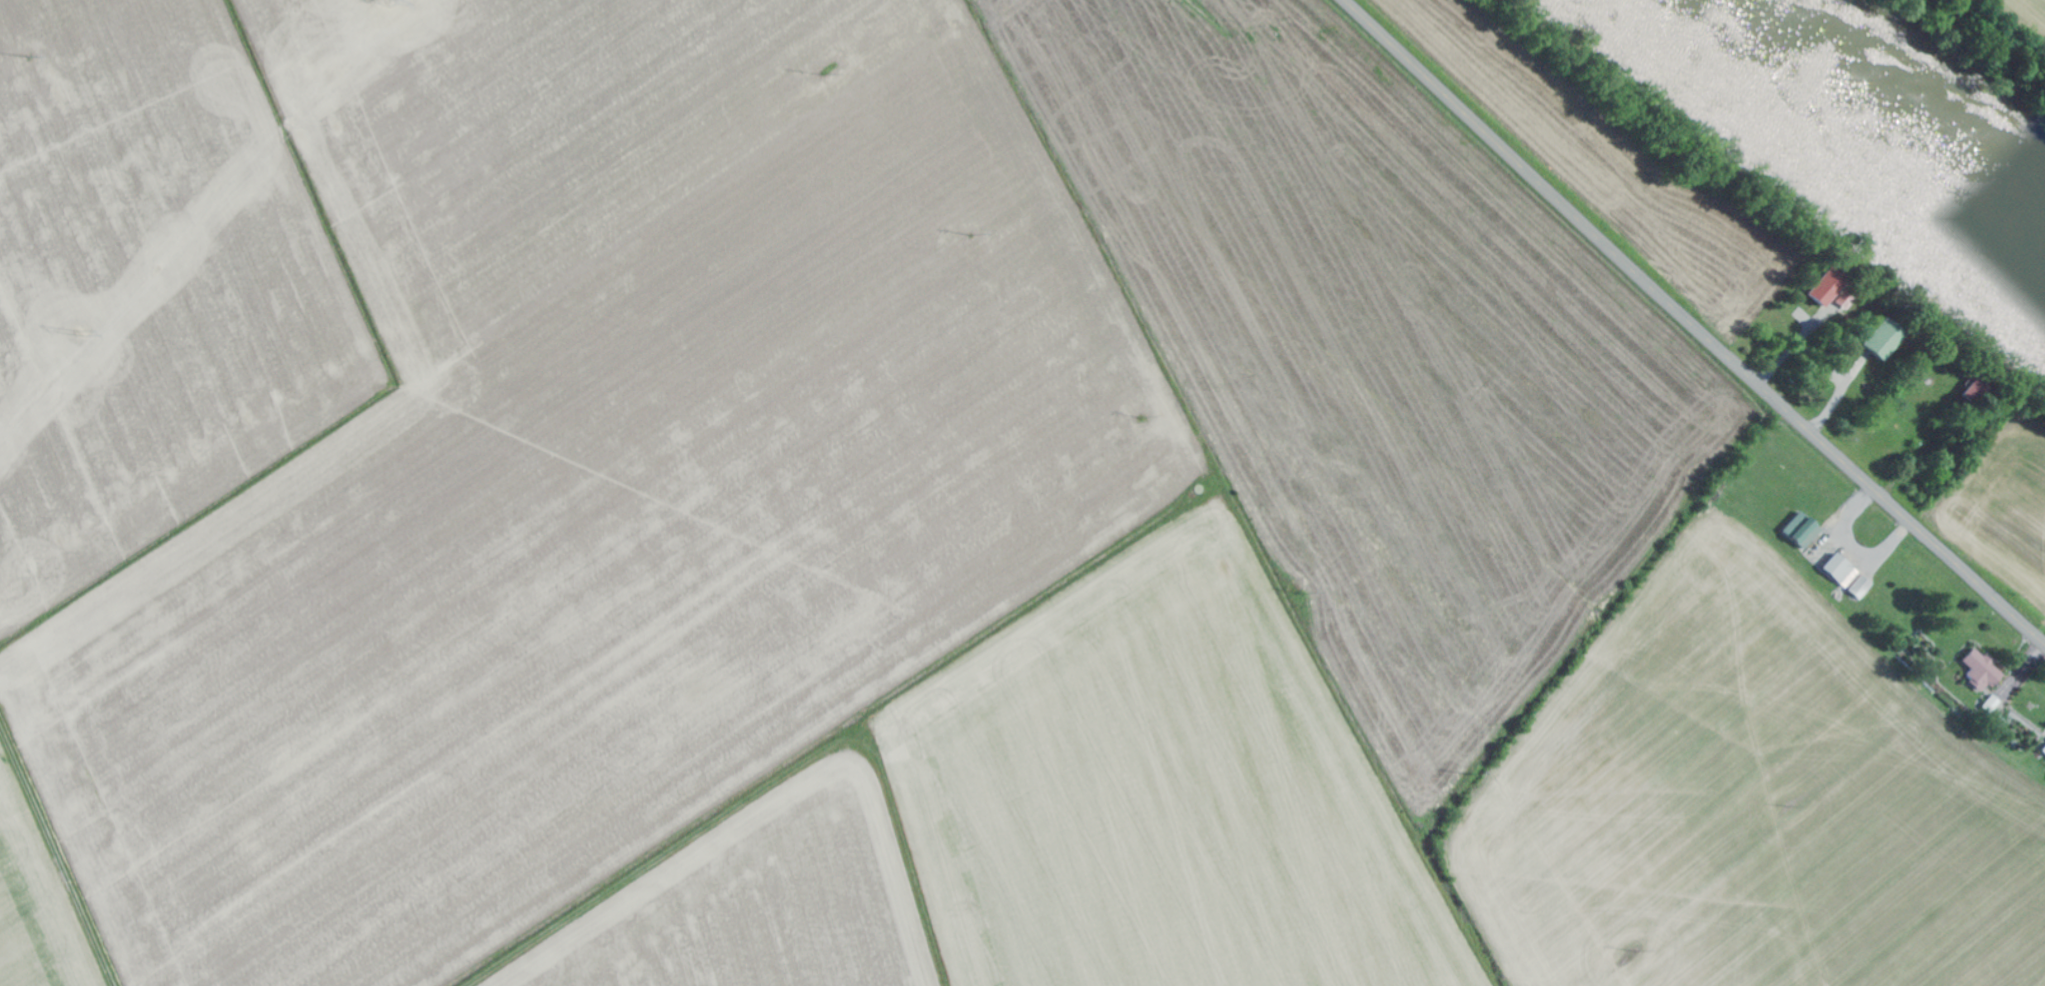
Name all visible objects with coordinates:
river: (1861, 128)
building: (1830, 287)
road: (1692, 325)
building: (1849, 572)
building: (1984, 669)

